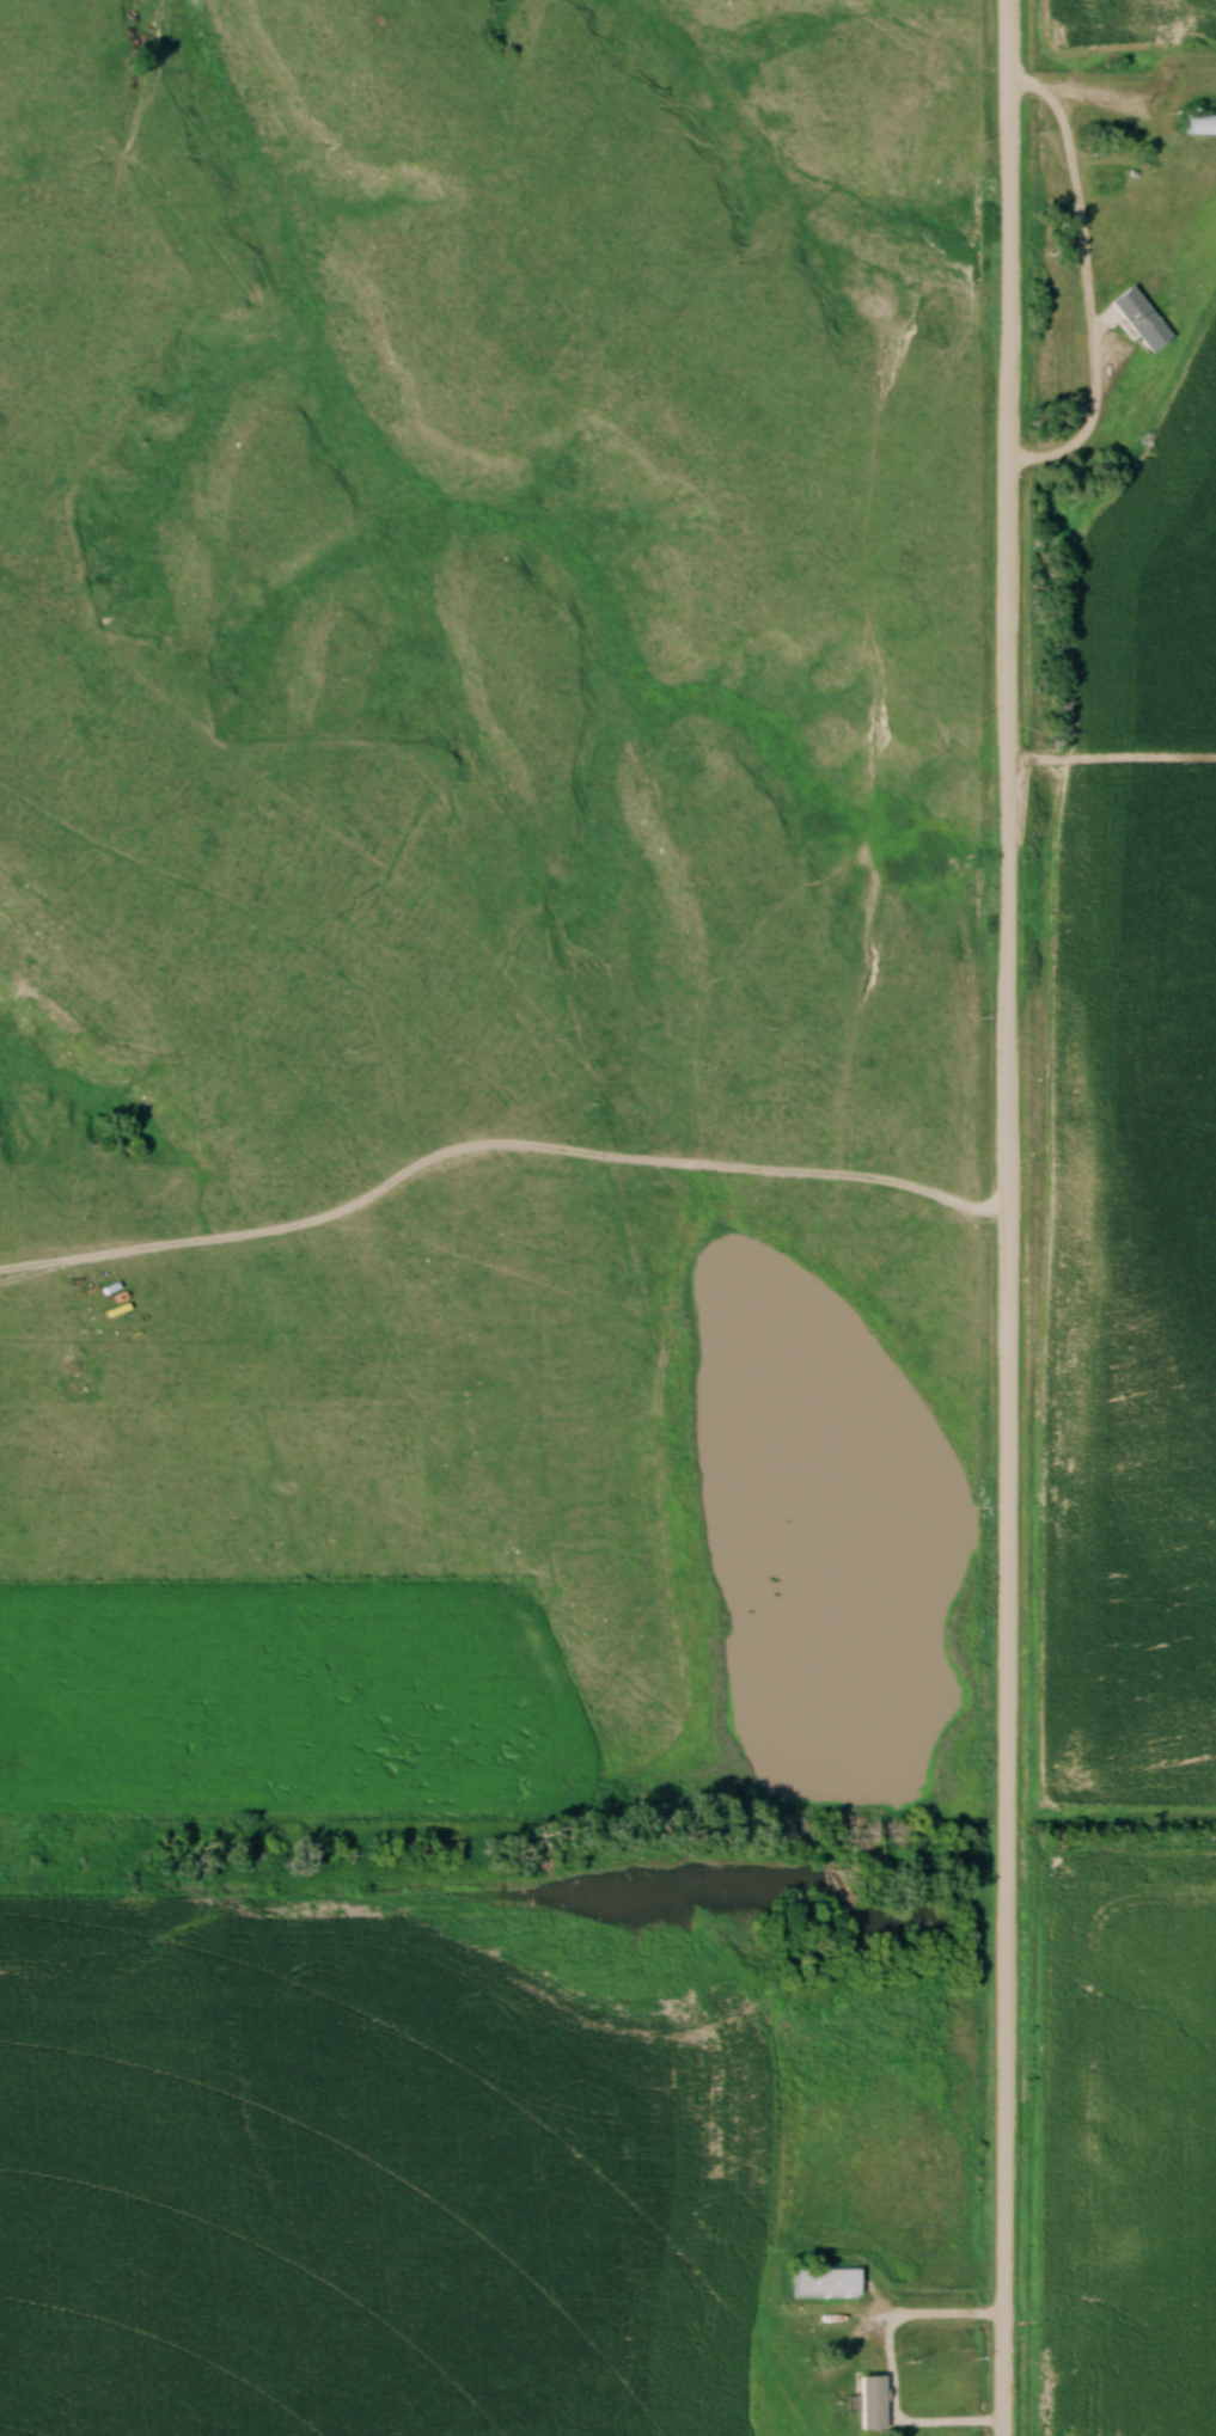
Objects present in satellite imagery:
building: (1202, 124)
road: (1089, 279)
building: (1145, 322)
road: (1012, 1218)
building: (830, 2283)
road: (890, 2363)
building: (878, 2404)

